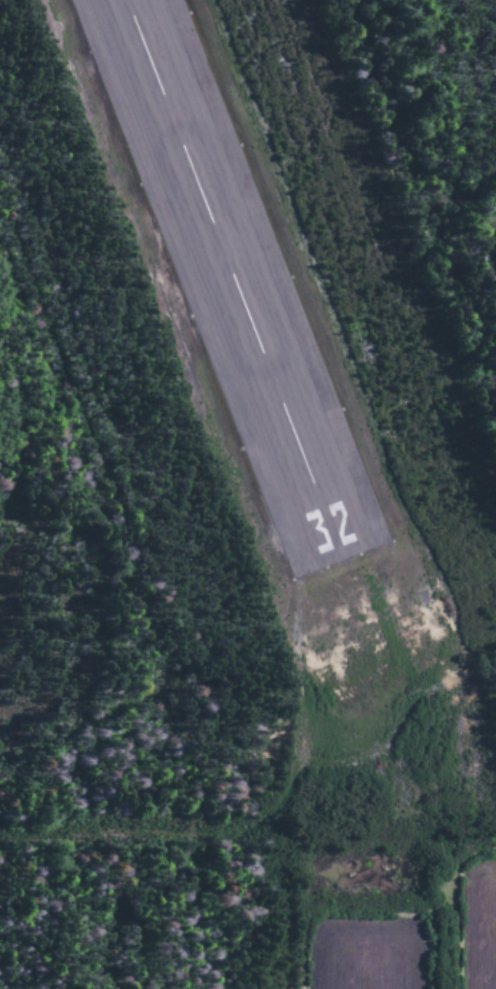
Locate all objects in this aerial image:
airport runway: (239, 274)
airport: (248, 419)
crop: (477, 927)
crop: (363, 956)

